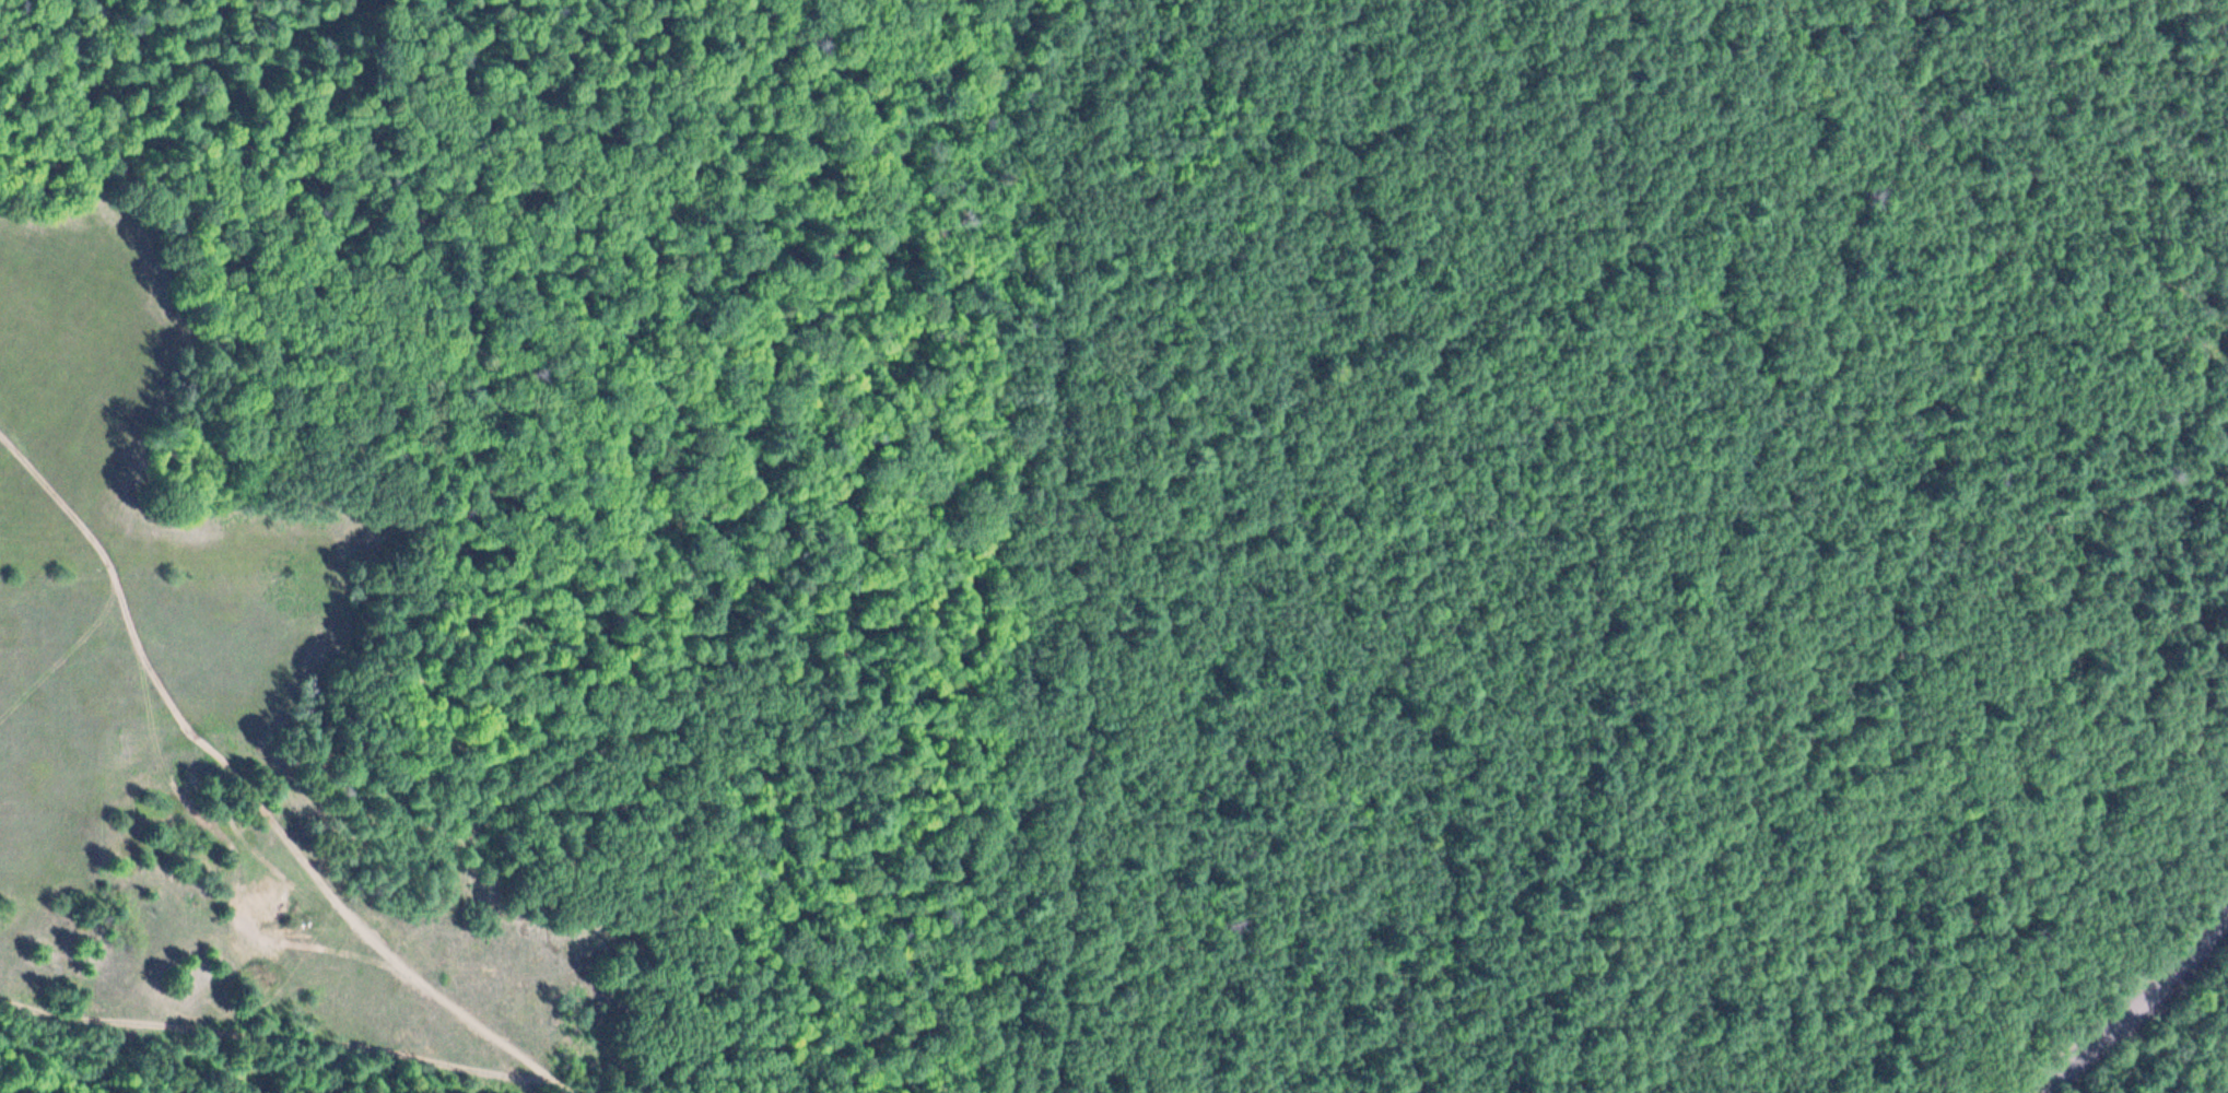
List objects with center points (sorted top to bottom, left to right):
road: (1067, 545)
road: (63, 653)
road: (234, 778)
road: (2138, 1010)
road: (270, 1042)

